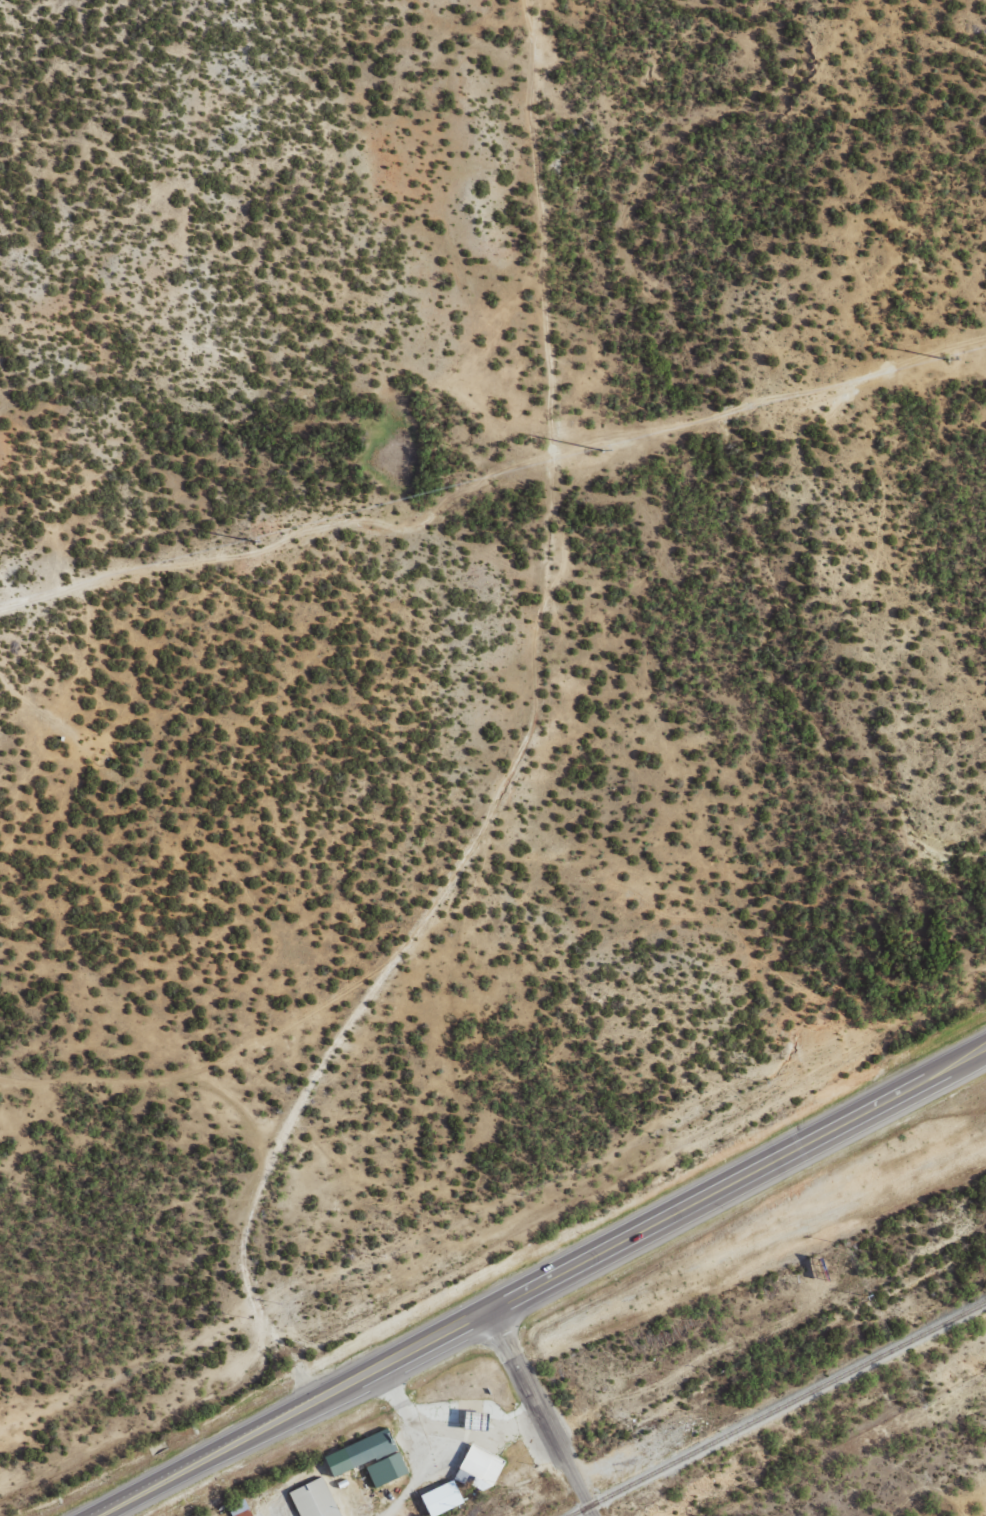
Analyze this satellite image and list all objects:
power tower: (945, 358)
power tower: (599, 449)
power tower: (252, 540)
road: (225, 958)
road: (540, 1285)
railway: (775, 1406)
road: (539, 1414)
building: (366, 1458)
building: (477, 1468)
building: (439, 1498)
building: (312, 1499)
building: (241, 1508)

